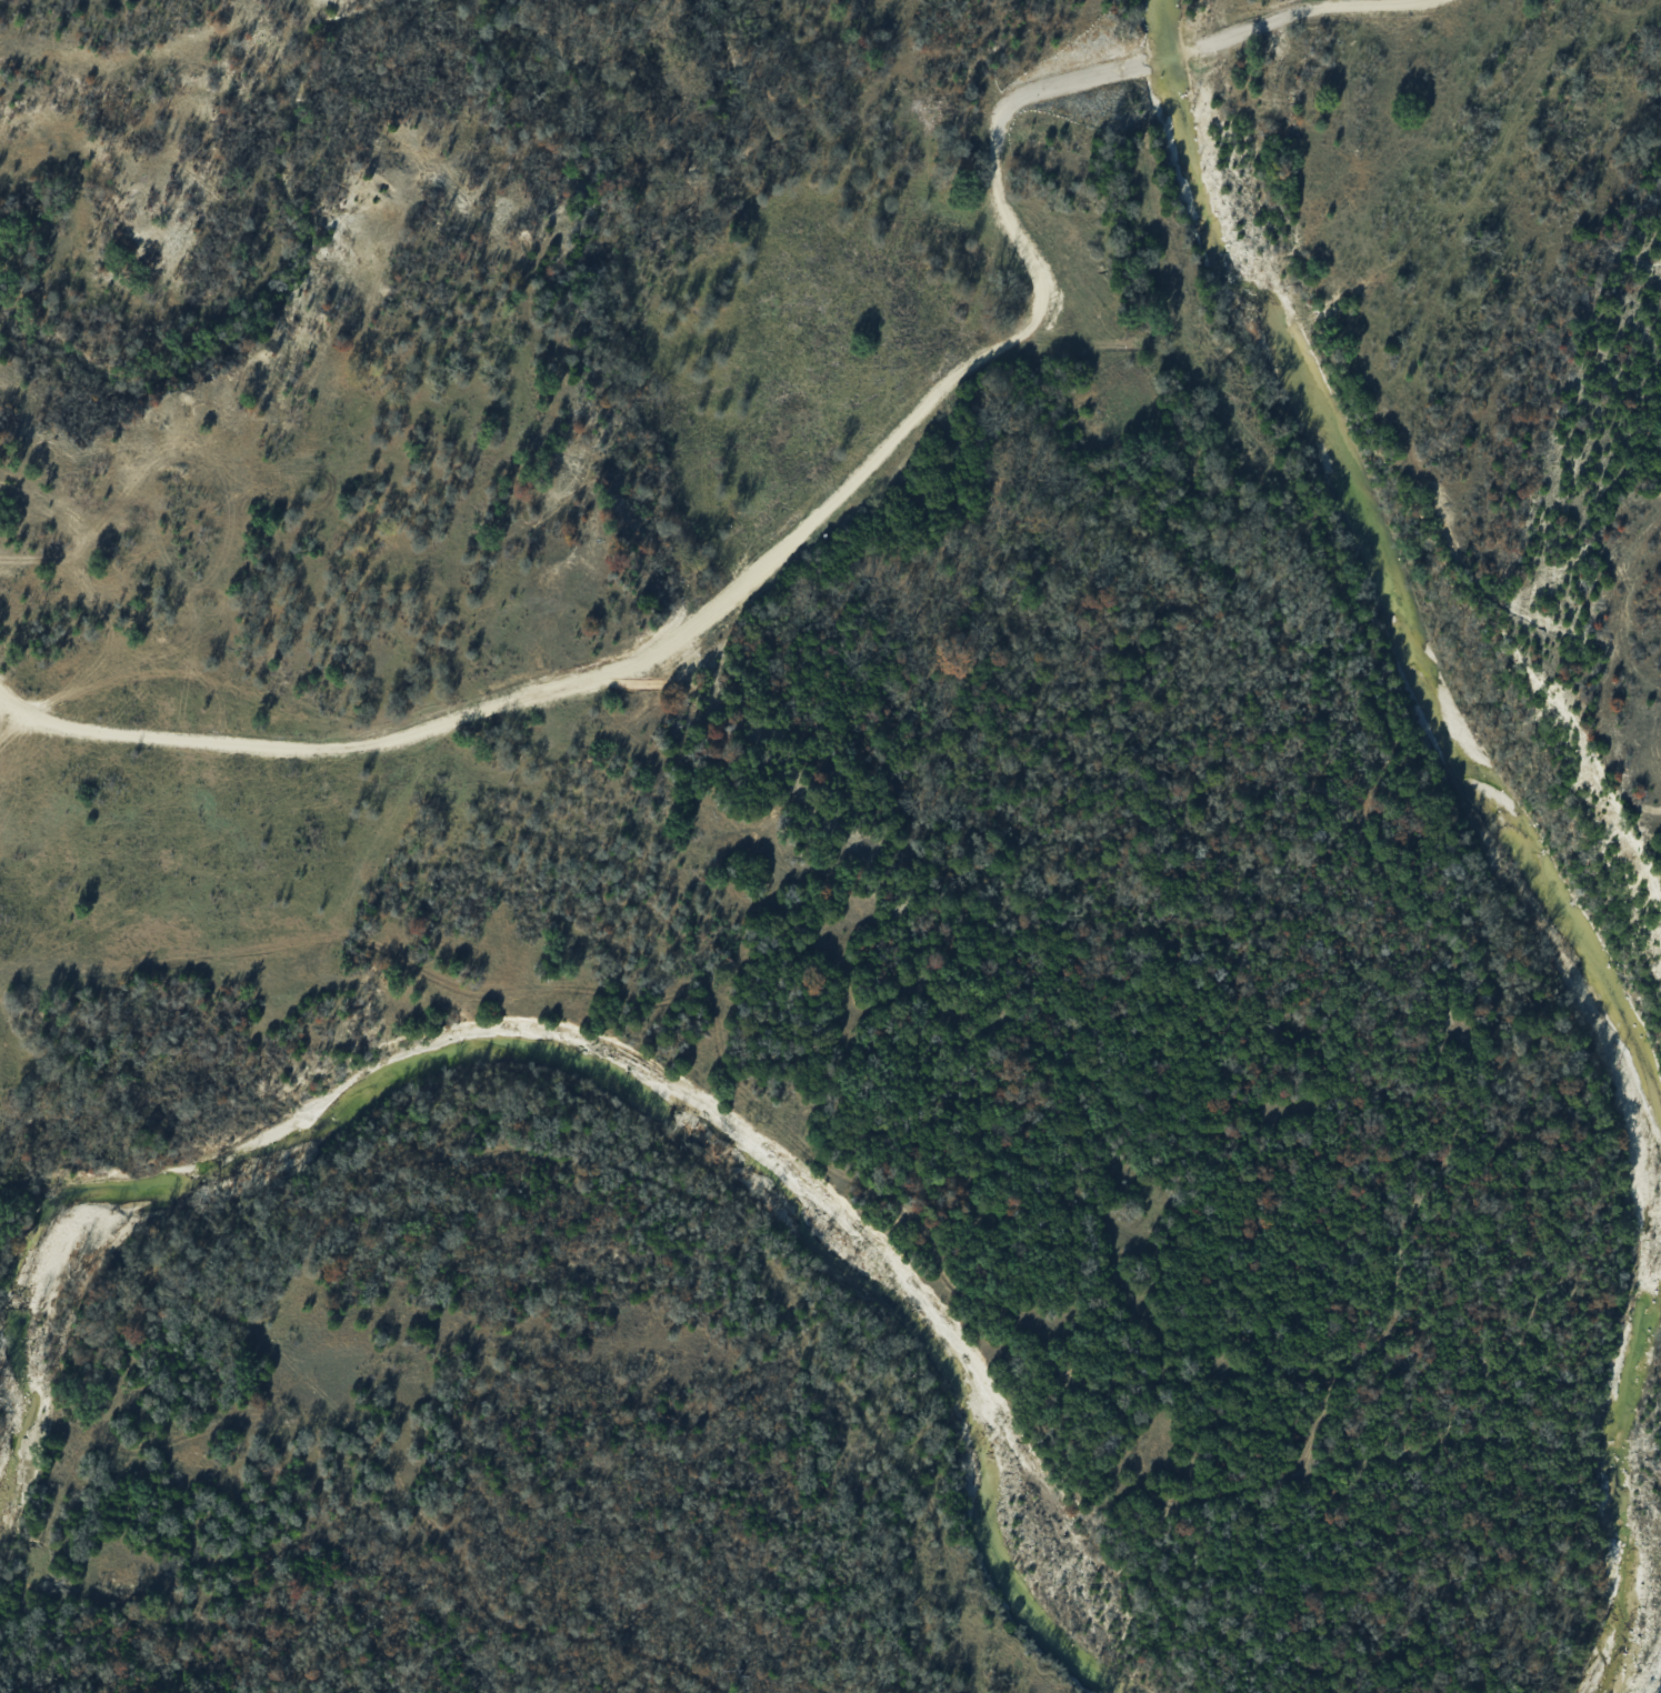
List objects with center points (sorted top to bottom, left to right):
road: (1008, 90)

